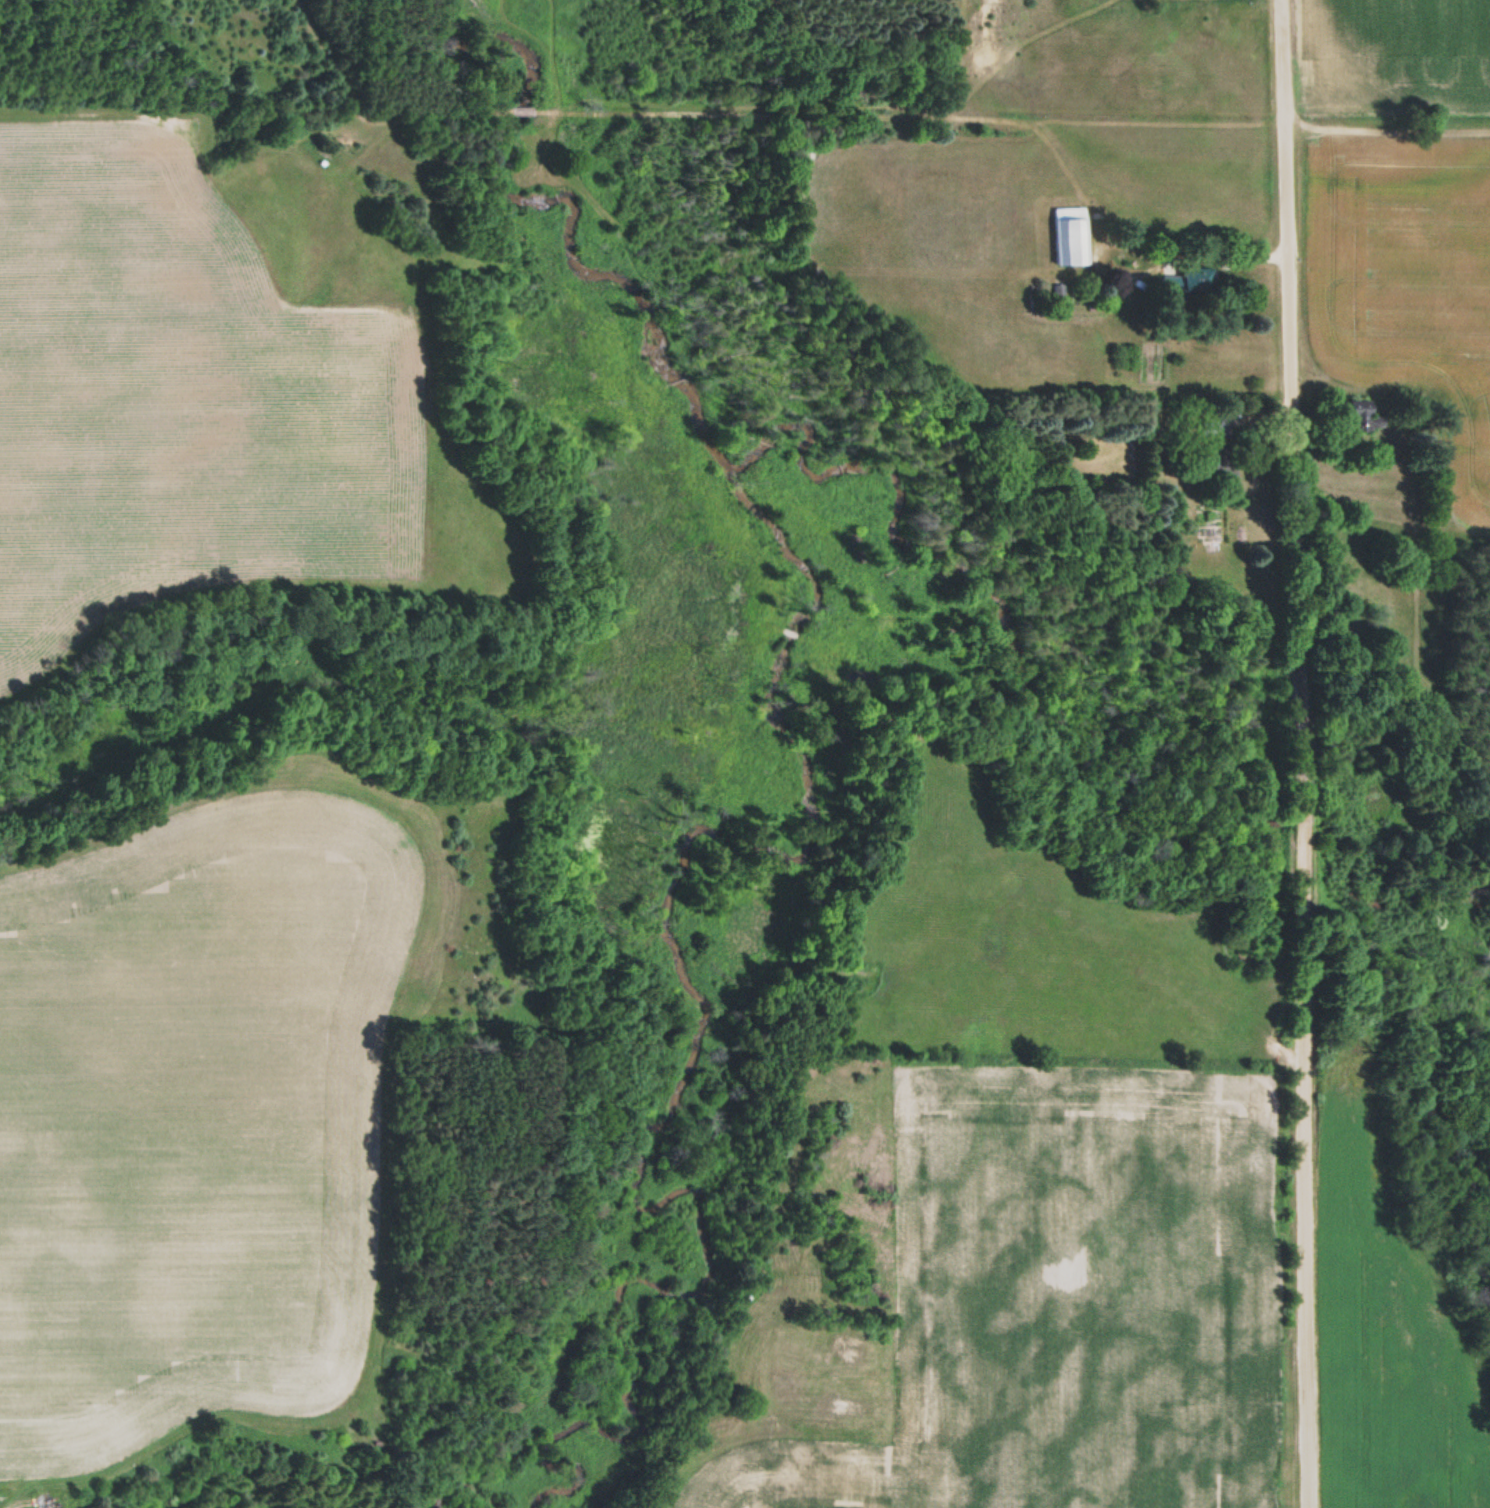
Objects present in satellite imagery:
building: (1070, 237)
building: (1173, 269)
building: (1354, 407)
building: (1222, 463)
road: (1301, 753)

